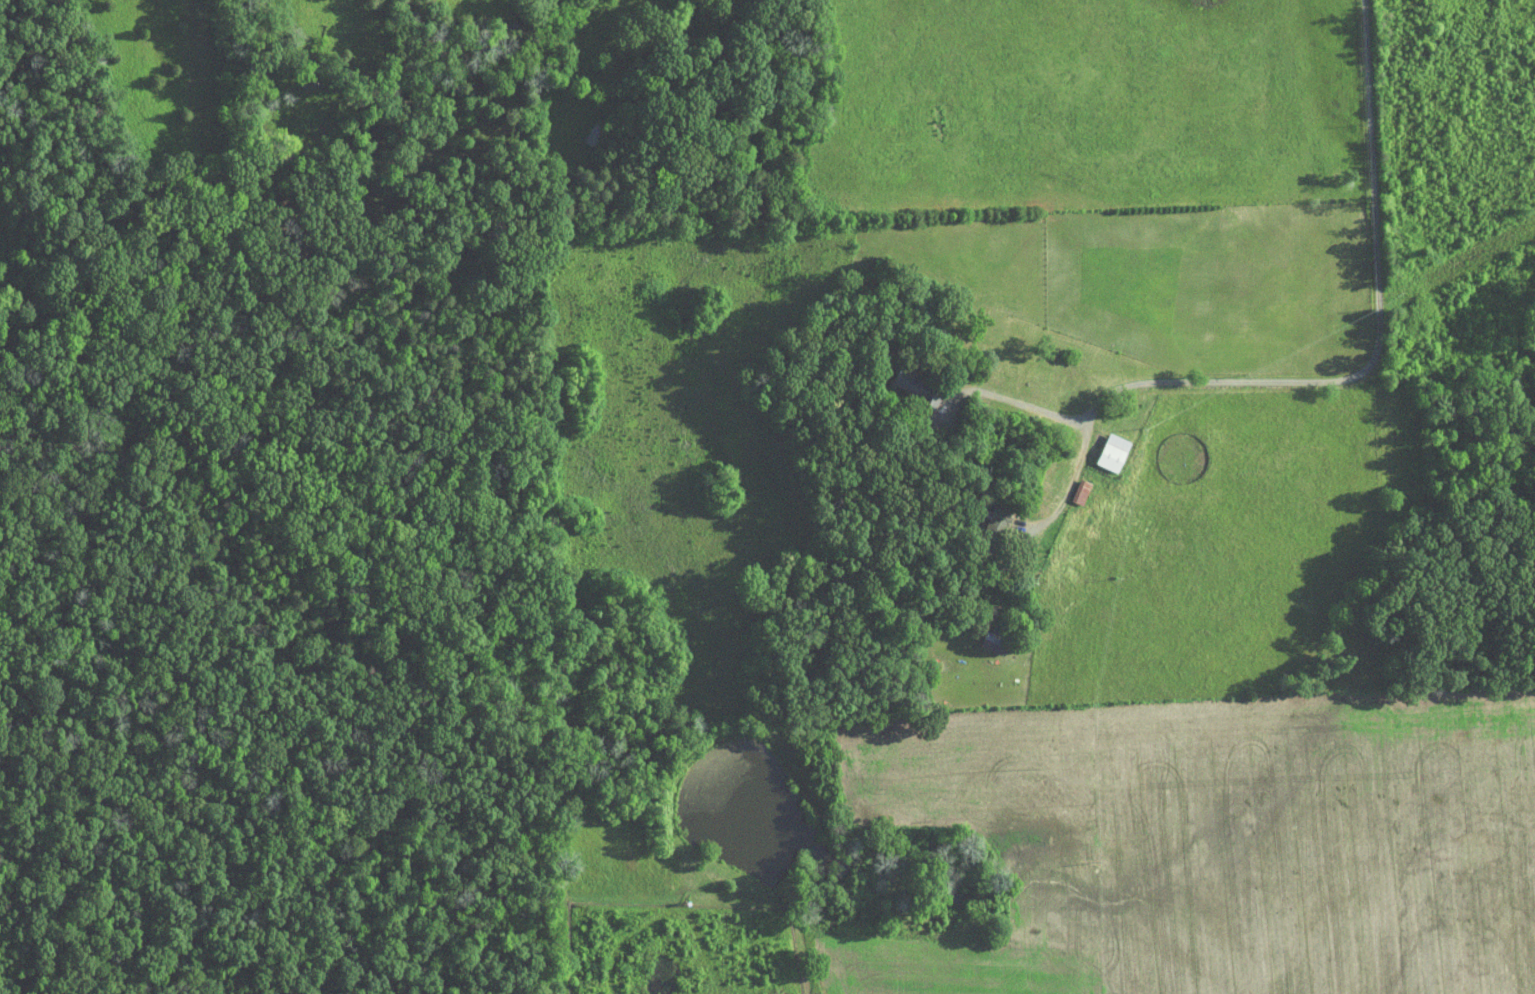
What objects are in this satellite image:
road: (1341, 374)
building: (913, 383)
road: (1397, 383)
road: (1008, 399)
building: (1105, 446)
building: (1071, 485)
building: (984, 636)

